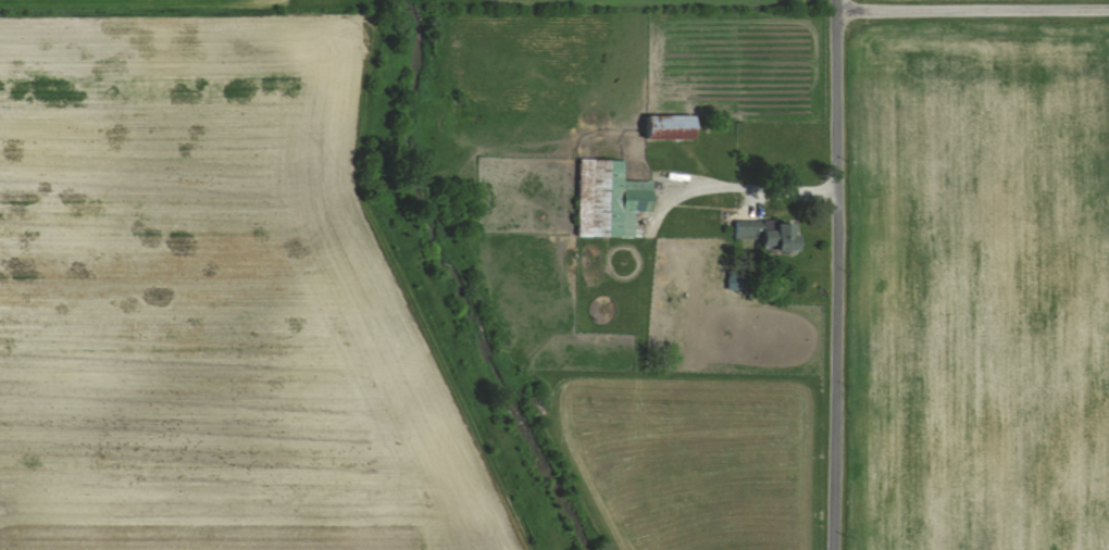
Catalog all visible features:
road: (972, 10)
building: (669, 128)
road: (764, 187)
building: (608, 199)
building: (767, 234)
road: (836, 275)
building: (737, 279)

